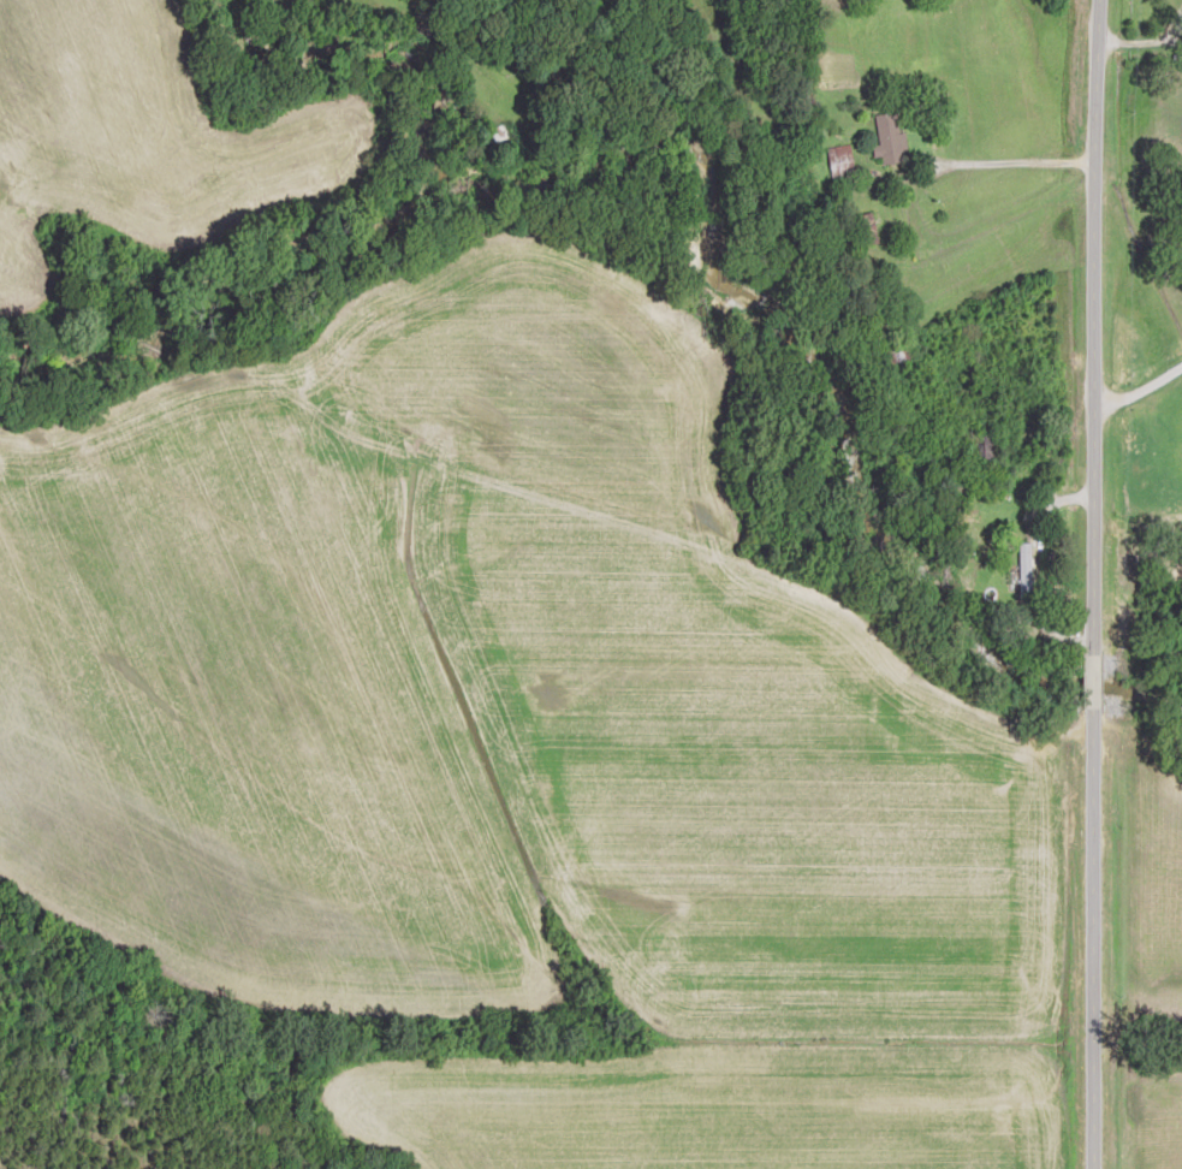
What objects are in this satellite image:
building: (892, 138)
road: (1018, 158)
building: (841, 160)
building: (865, 231)
road: (1146, 340)
building: (986, 444)
building: (1026, 571)
road: (1110, 583)

